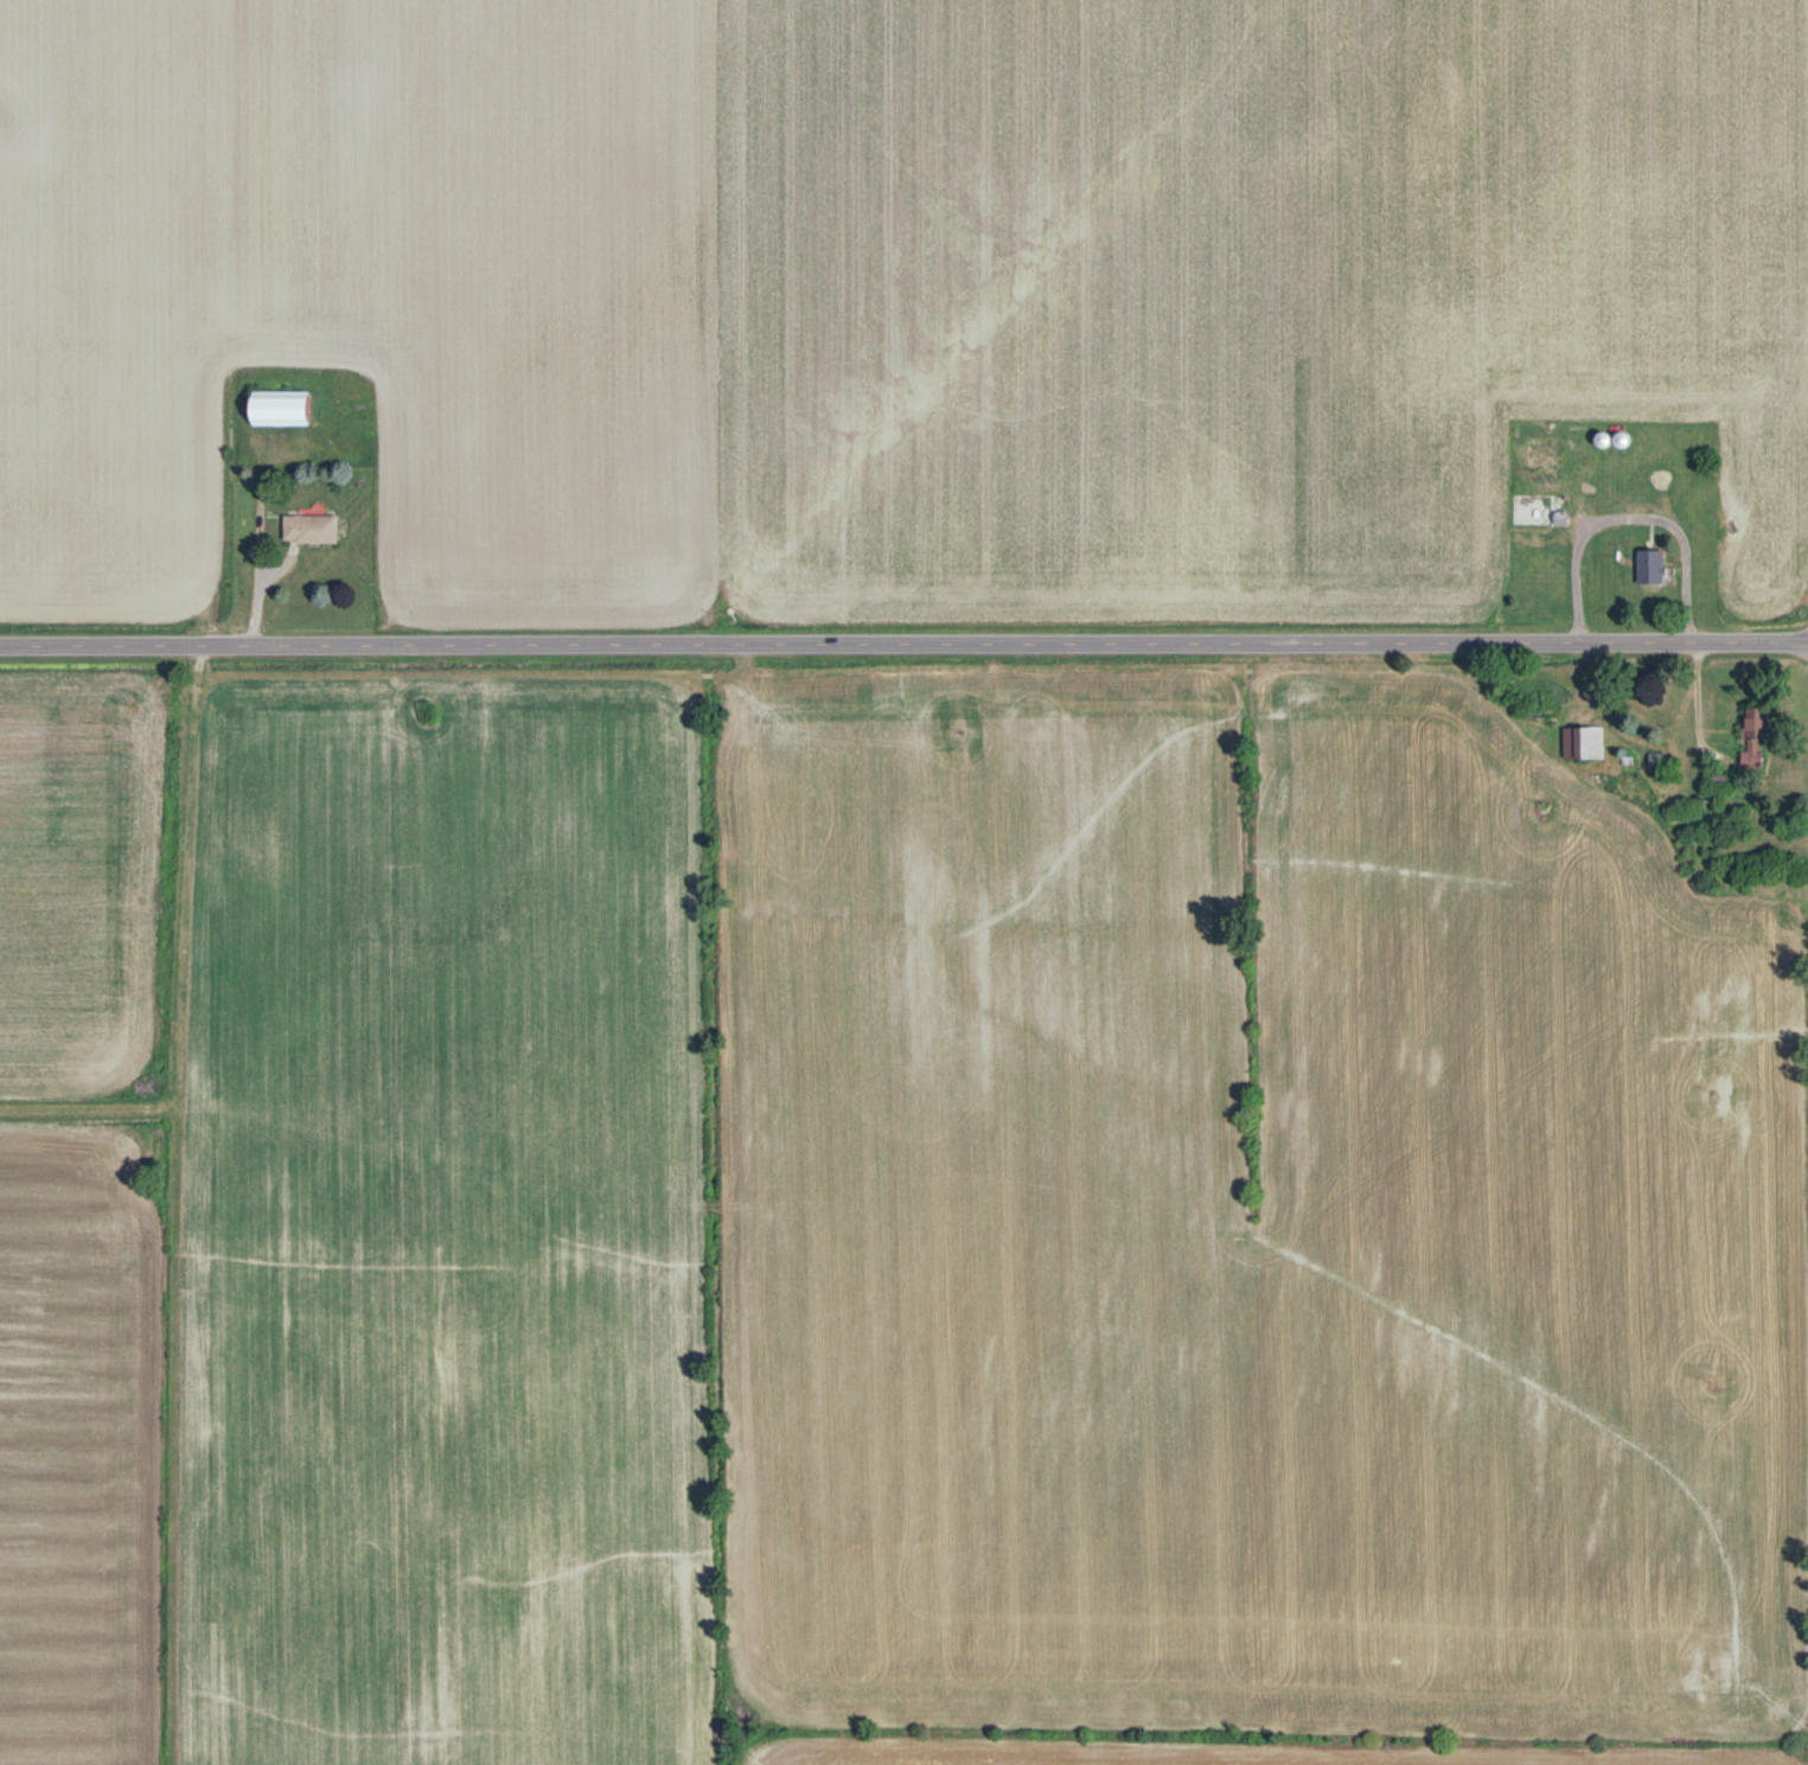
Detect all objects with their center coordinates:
building: (280, 410)
building: (1663, 480)
building: (1535, 513)
road: (1631, 519)
building: (309, 531)
building: (1650, 569)
road: (903, 642)
building: (1758, 725)
building: (1580, 747)

